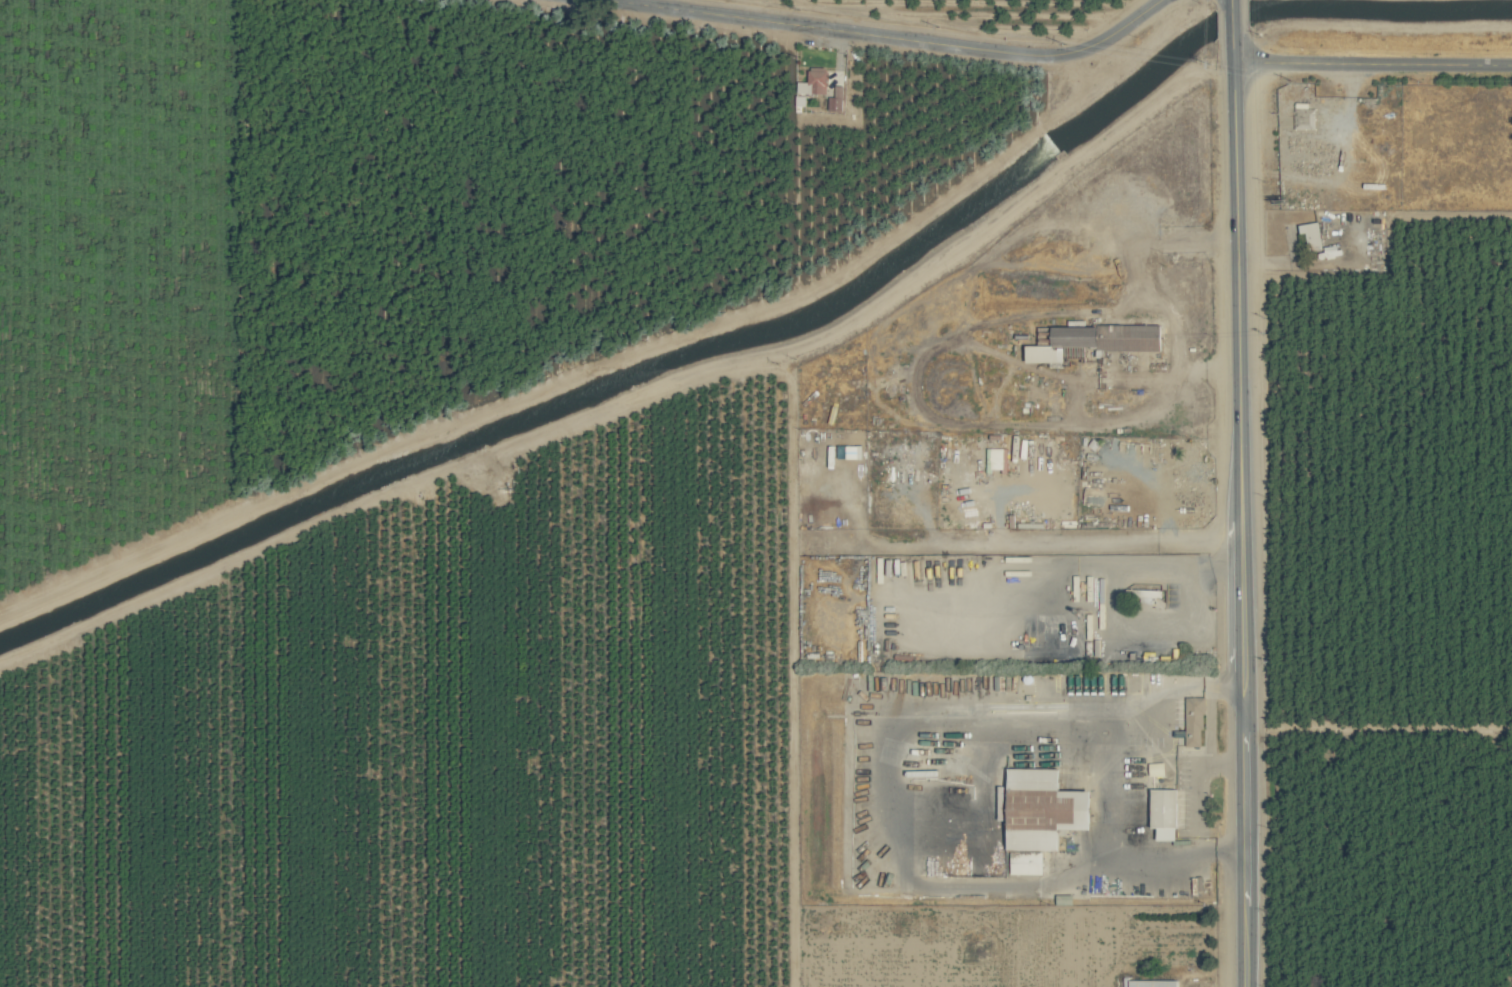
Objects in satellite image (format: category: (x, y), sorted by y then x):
road: (1230, 2)
road: (652, 6)
road: (1231, 19)
road: (823, 27)
road: (1060, 53)
road: (1371, 63)
building: (814, 81)
building: (836, 99)
building: (1304, 116)
building: (1311, 235)
road: (1137, 271)
building: (1093, 342)
building: (1035, 390)
road: (1106, 421)
building: (998, 460)
crop: (756, 493)
road: (1242, 509)
building: (1194, 722)
road: (1212, 724)
road: (1181, 765)
road: (1116, 785)
building: (1043, 809)
building: (1165, 814)
building: (1026, 864)
building: (1152, 983)

